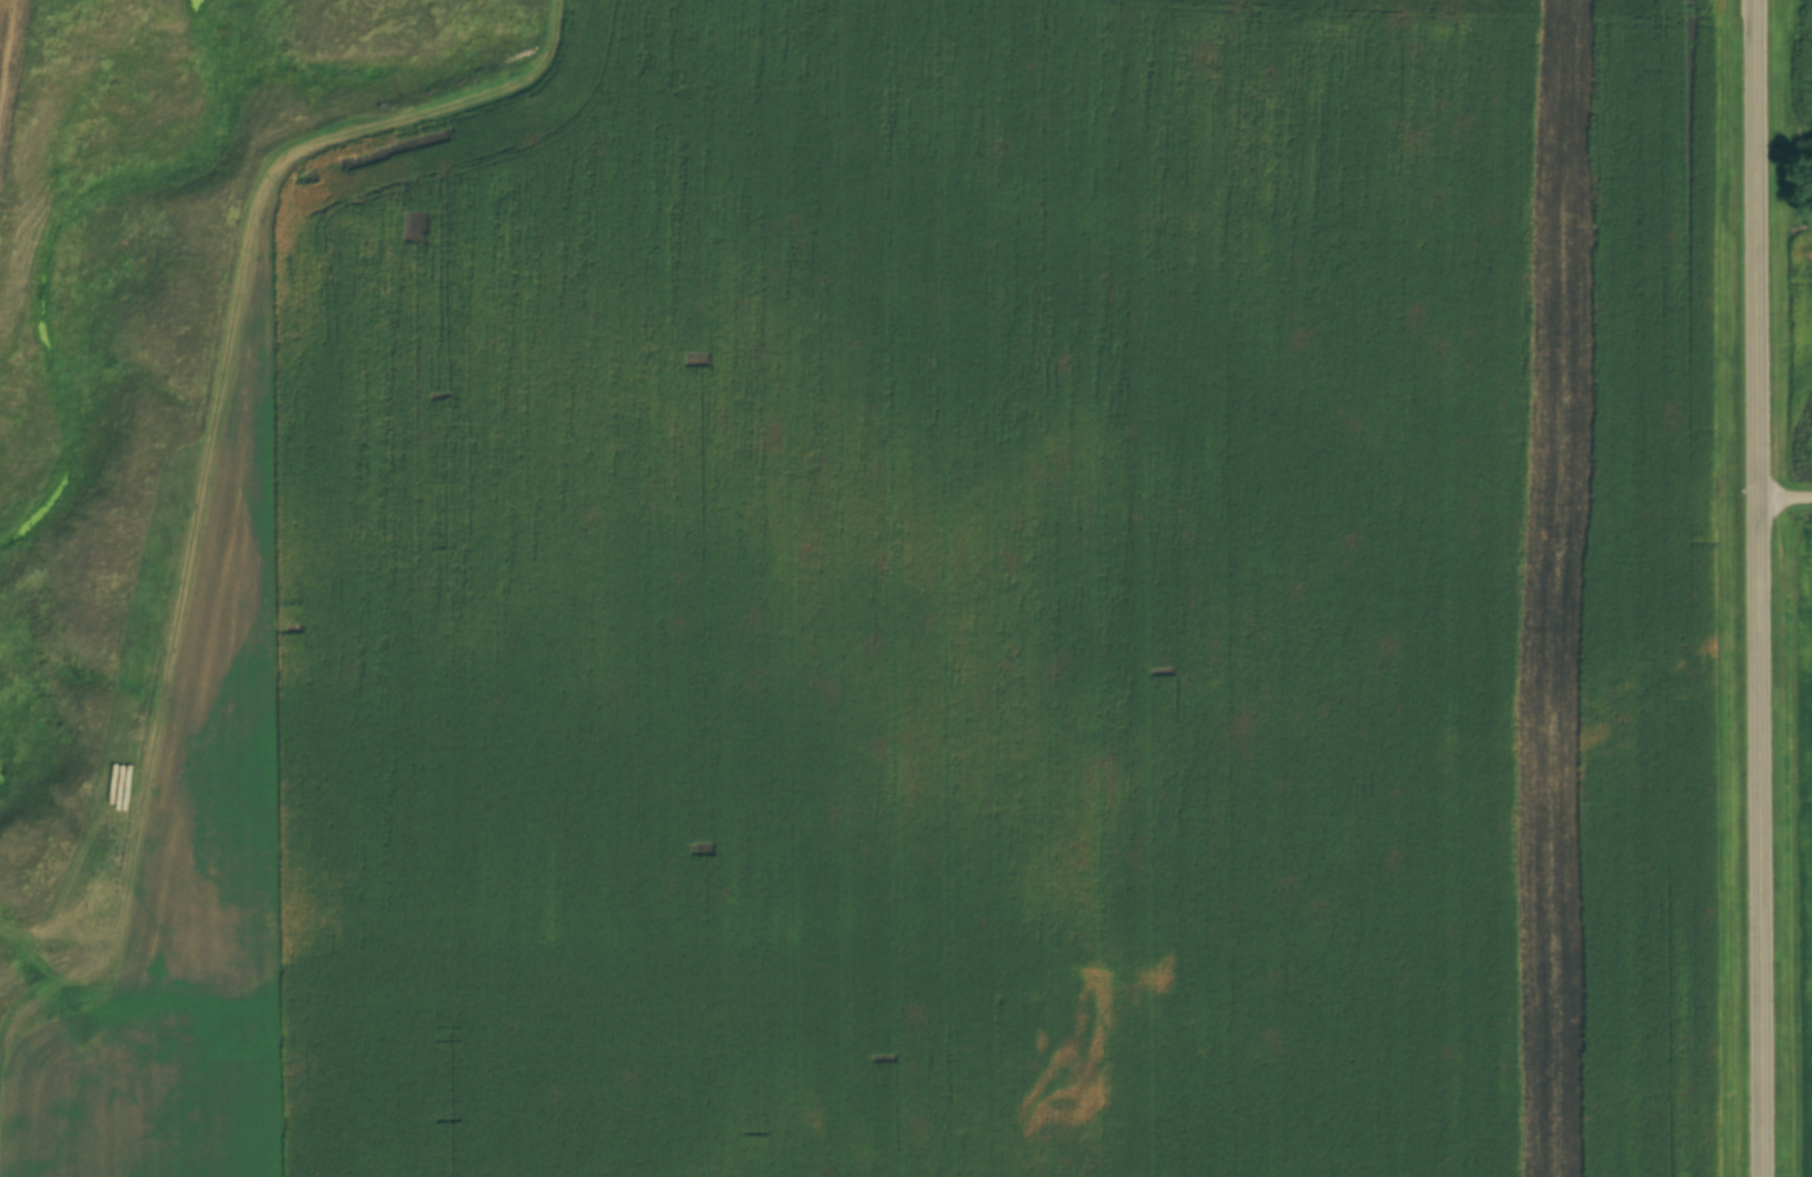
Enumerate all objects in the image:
road: (1766, 588)

